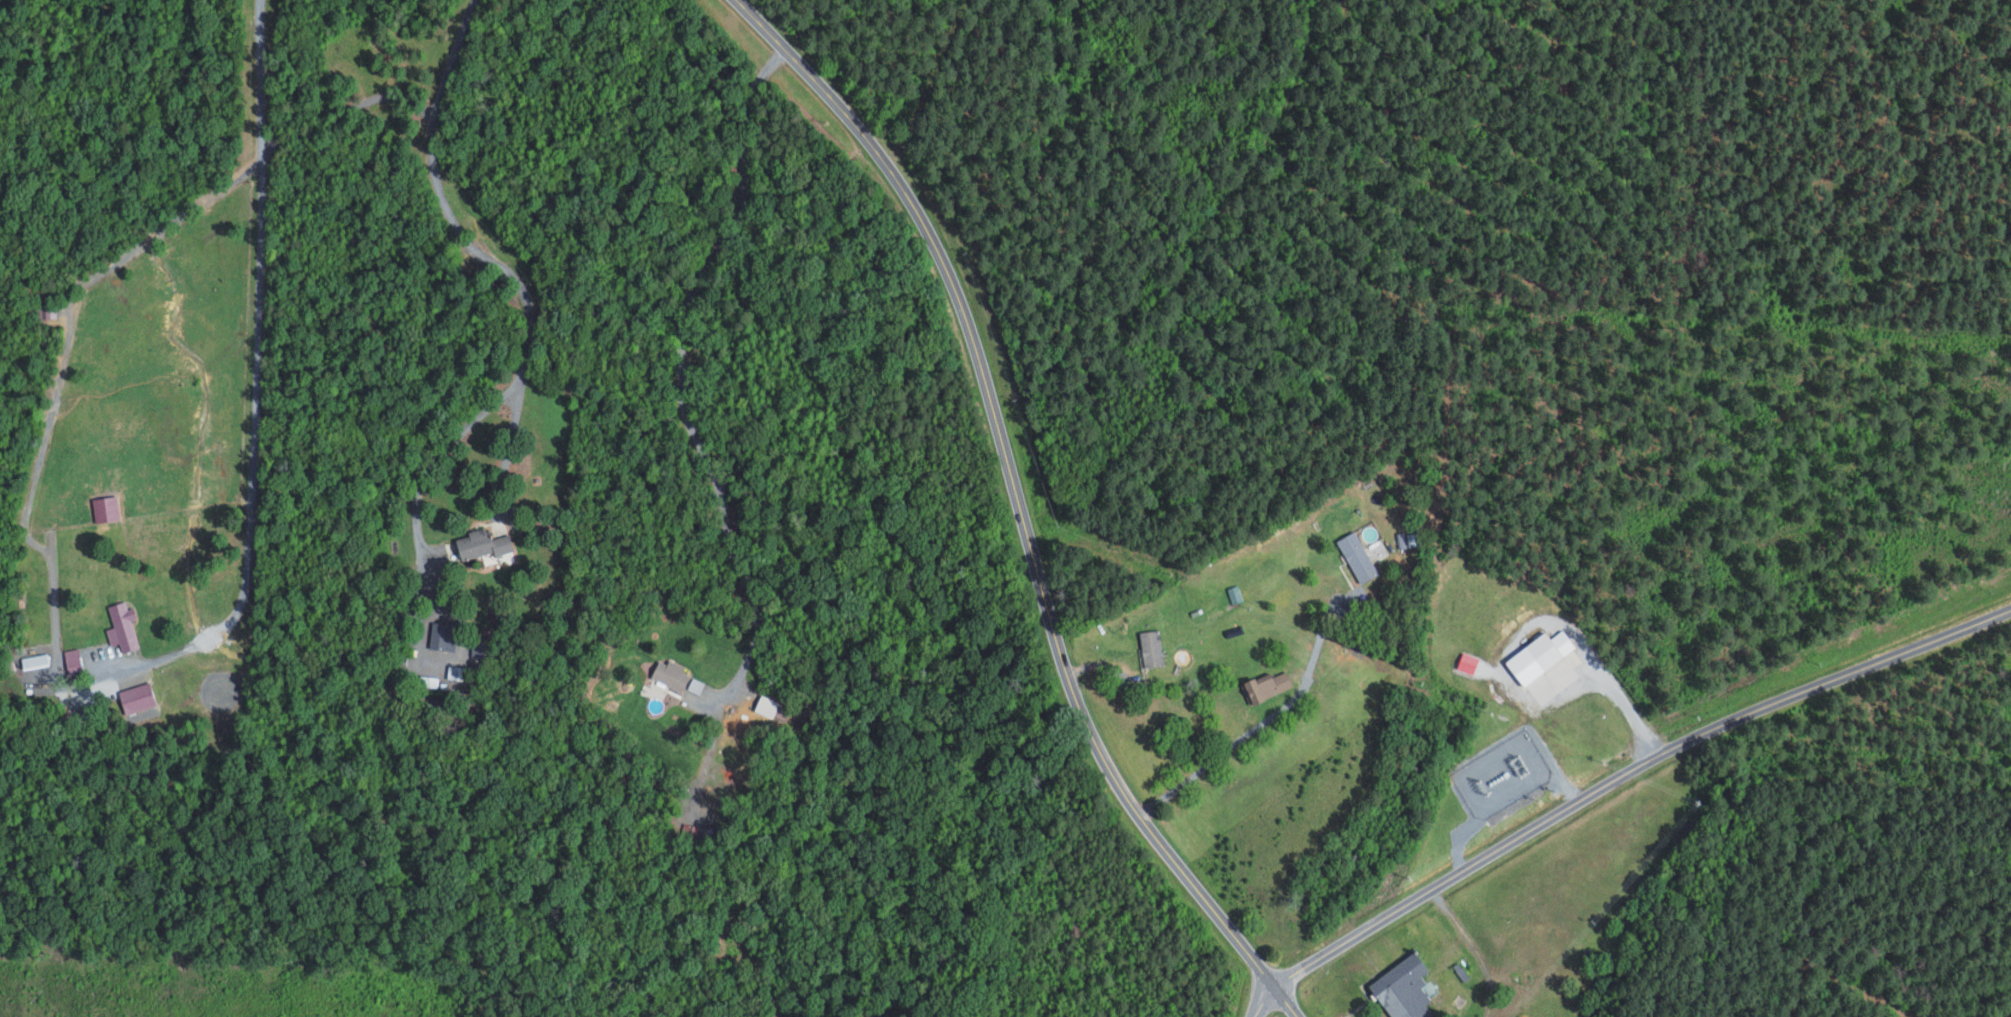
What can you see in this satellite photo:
road: (904, 65)
road: (259, 81)
road: (482, 254)
road: (681, 357)
road: (439, 456)
building: (106, 508)
road: (1021, 508)
building: (1409, 539)
building: (482, 546)
building: (1358, 556)
building: (1235, 593)
road: (1535, 623)
building: (124, 626)
building: (444, 636)
building: (1153, 648)
building: (35, 660)
building: (75, 661)
building: (1469, 663)
building: (1547, 665)
building: (670, 677)
building: (696, 685)
road: (66, 687)
building: (138, 697)
road: (1266, 718)
road: (1613, 779)
road: (1470, 948)
building: (1406, 989)

